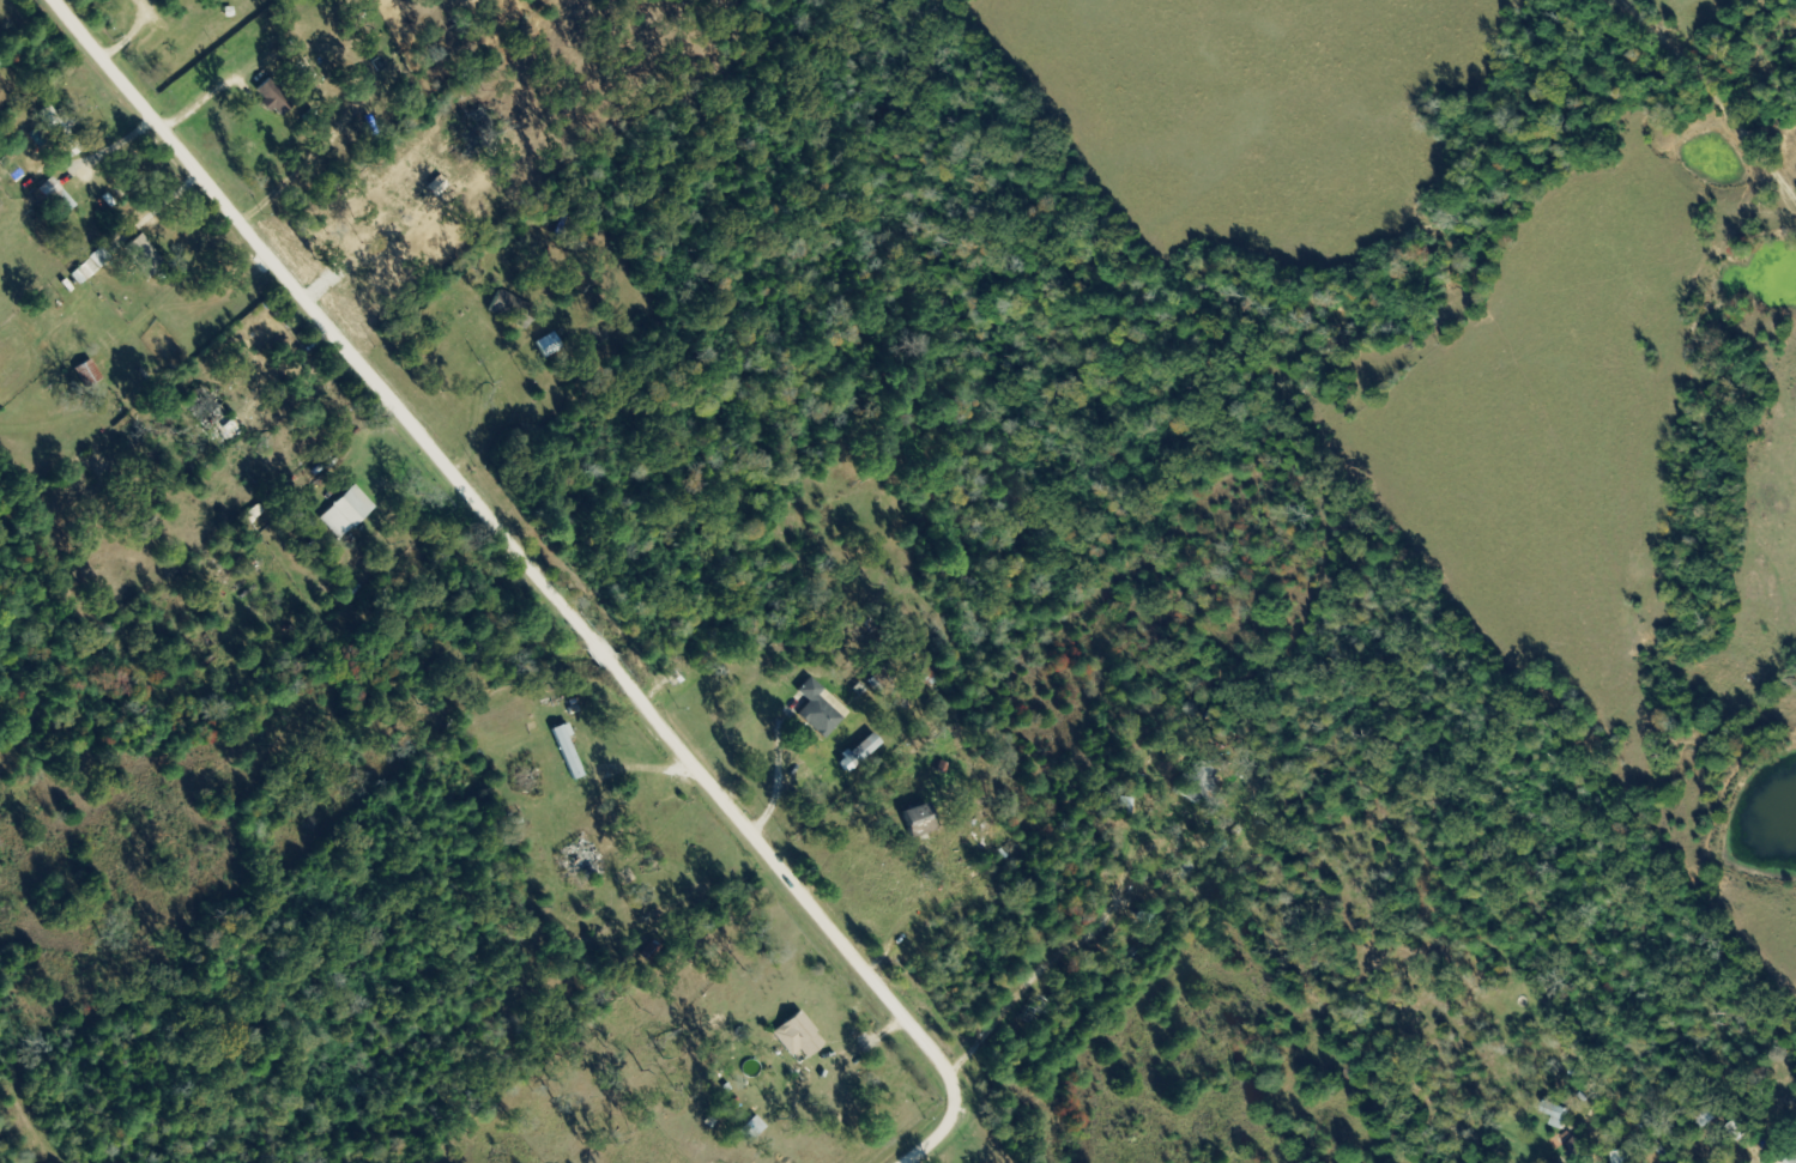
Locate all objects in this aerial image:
building: (271, 97)
building: (59, 129)
building: (56, 198)
building: (143, 255)
building: (509, 309)
building: (546, 345)
building: (86, 372)
building: (211, 414)
building: (345, 513)
building: (313, 551)
road: (534, 579)
building: (926, 679)
building: (818, 709)
building: (1197, 783)
building: (1123, 805)
building: (915, 818)
building: (579, 861)
building: (1167, 871)
building: (1032, 1011)
building: (796, 1035)
building: (1553, 1111)
building: (1736, 1128)
building: (1617, 1157)
building: (1791, 1158)

